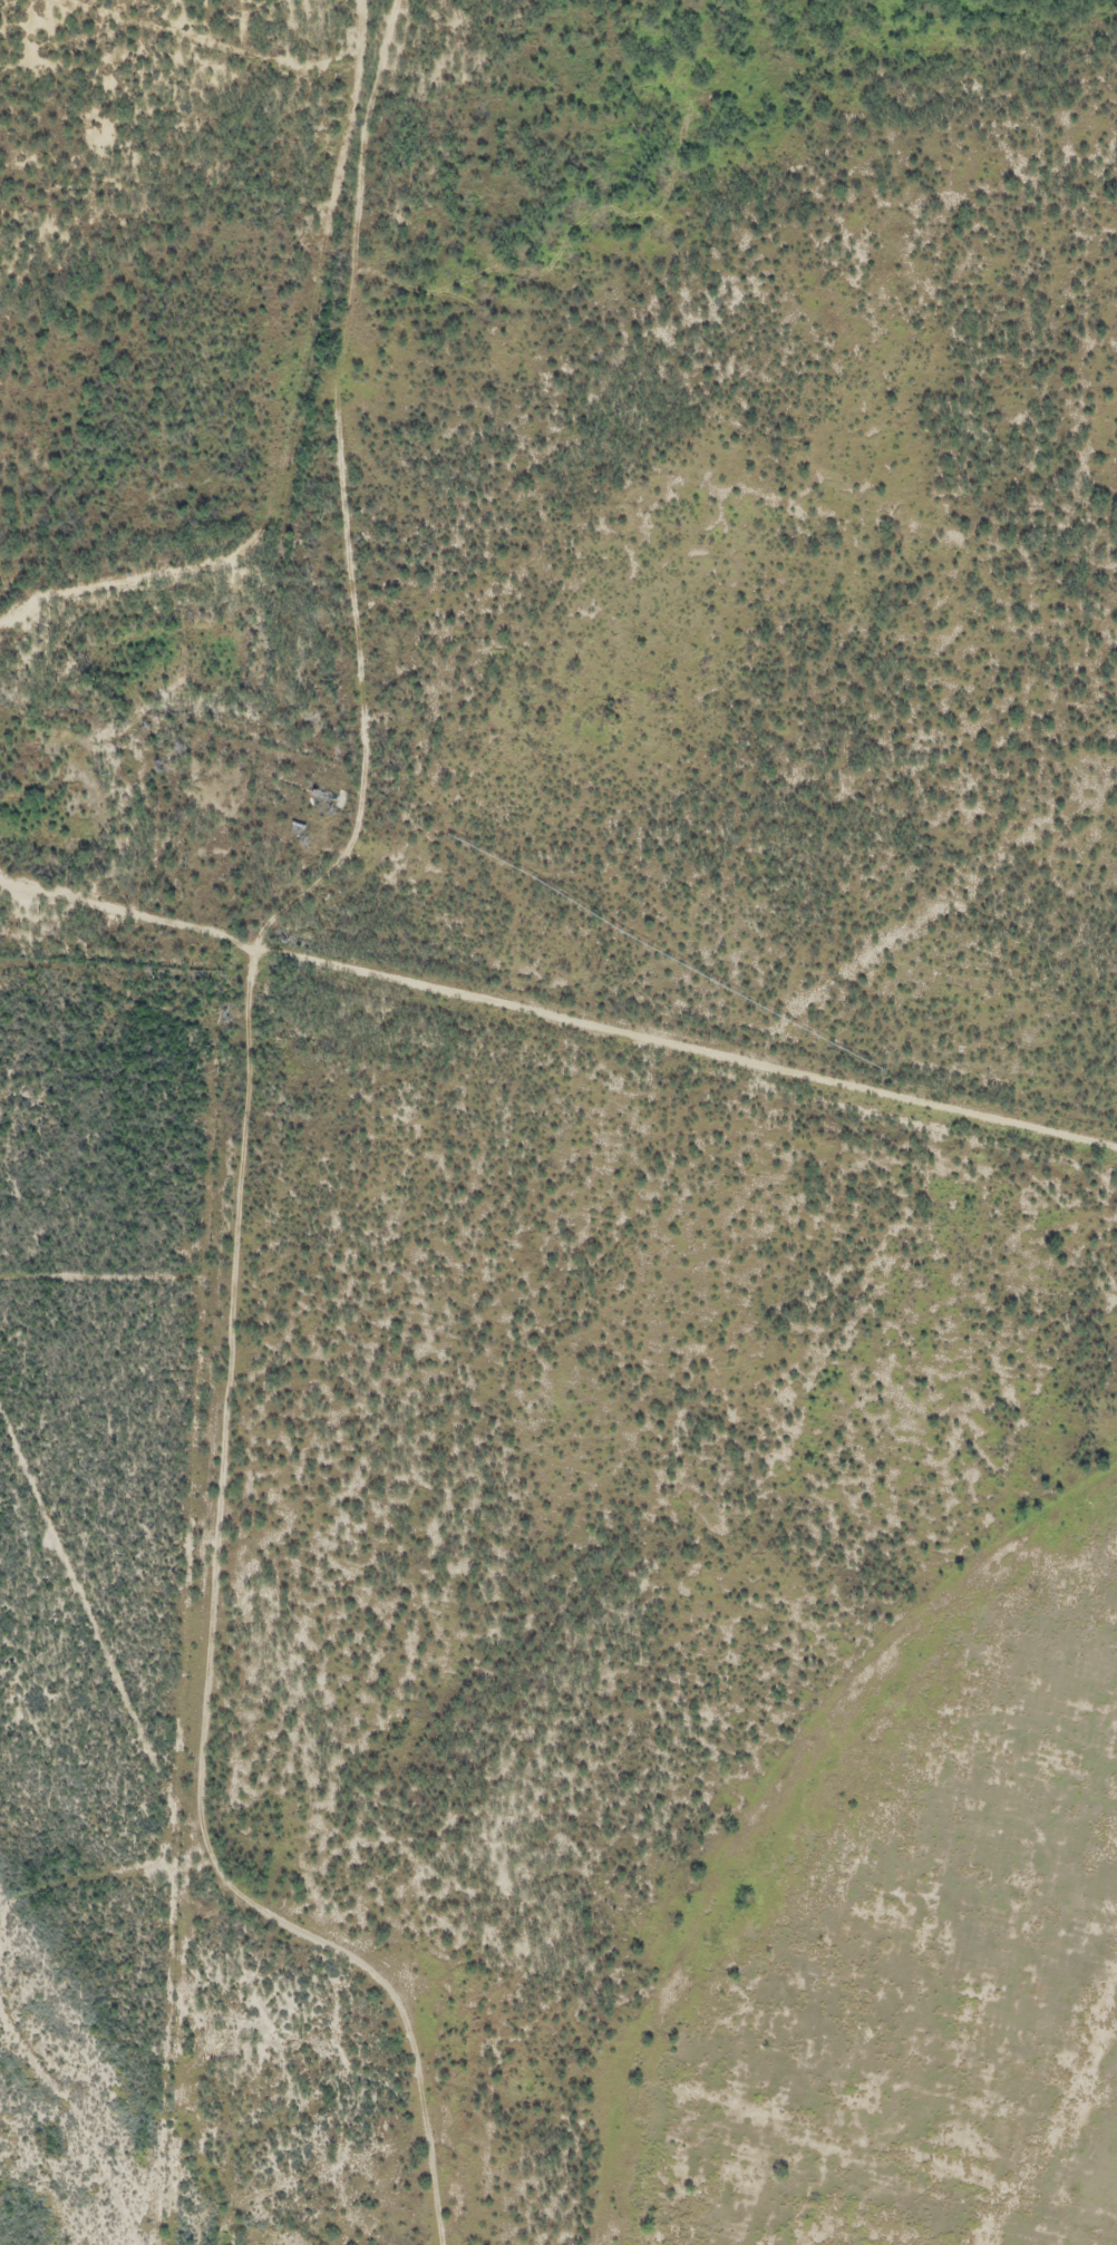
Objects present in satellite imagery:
road: (557, 1012)

